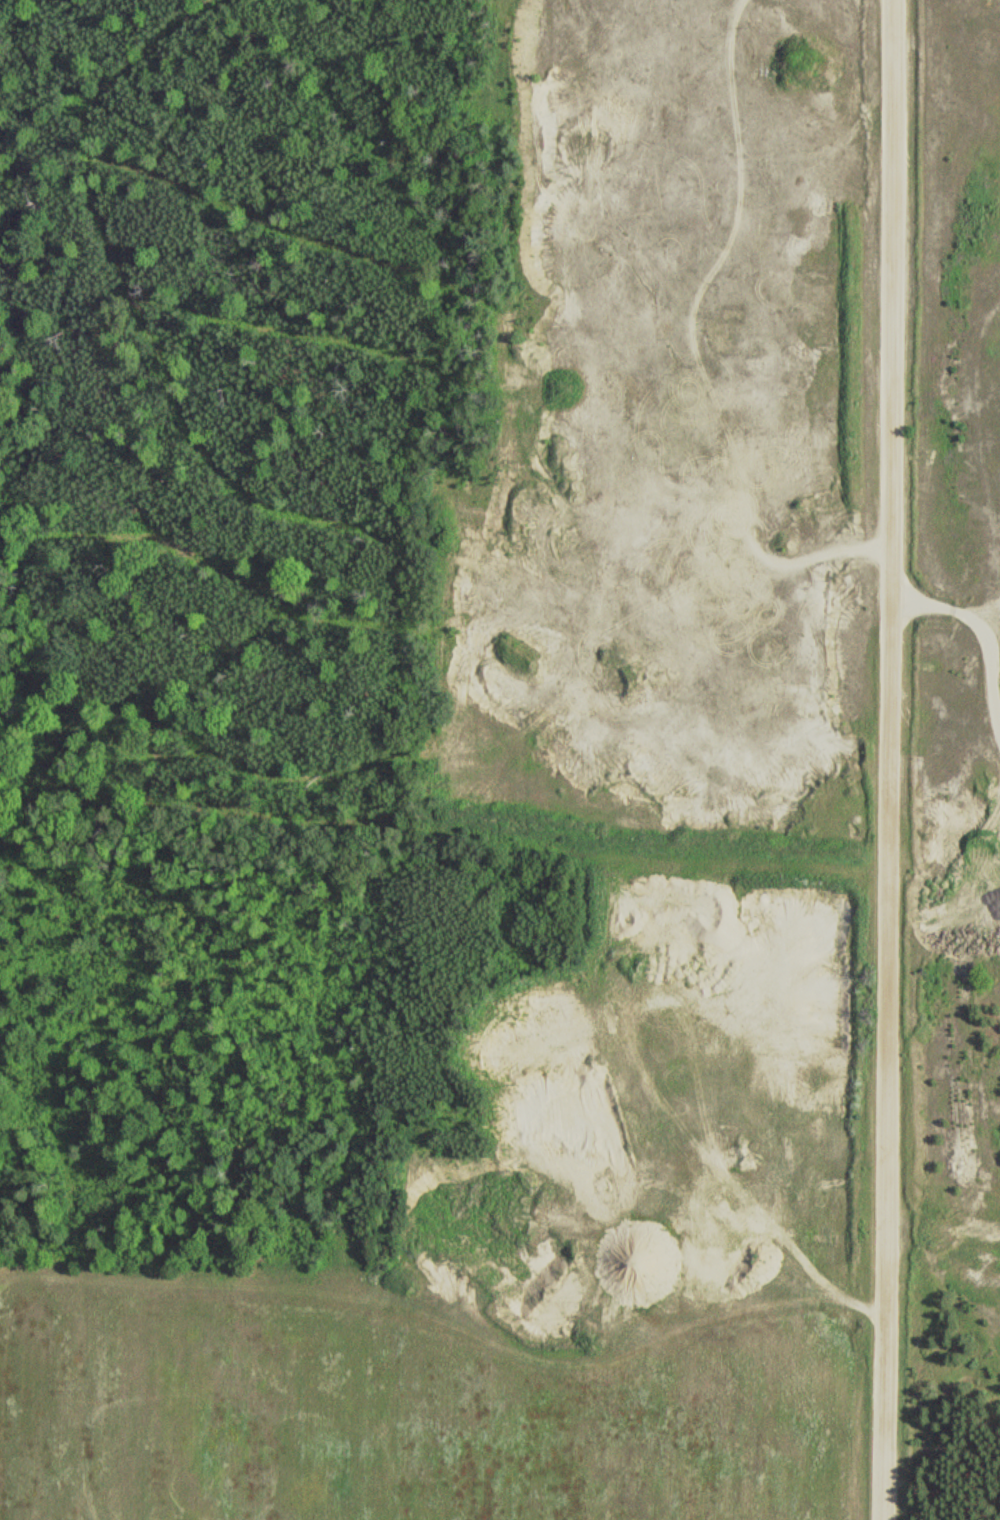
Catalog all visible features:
road: (889, 760)

